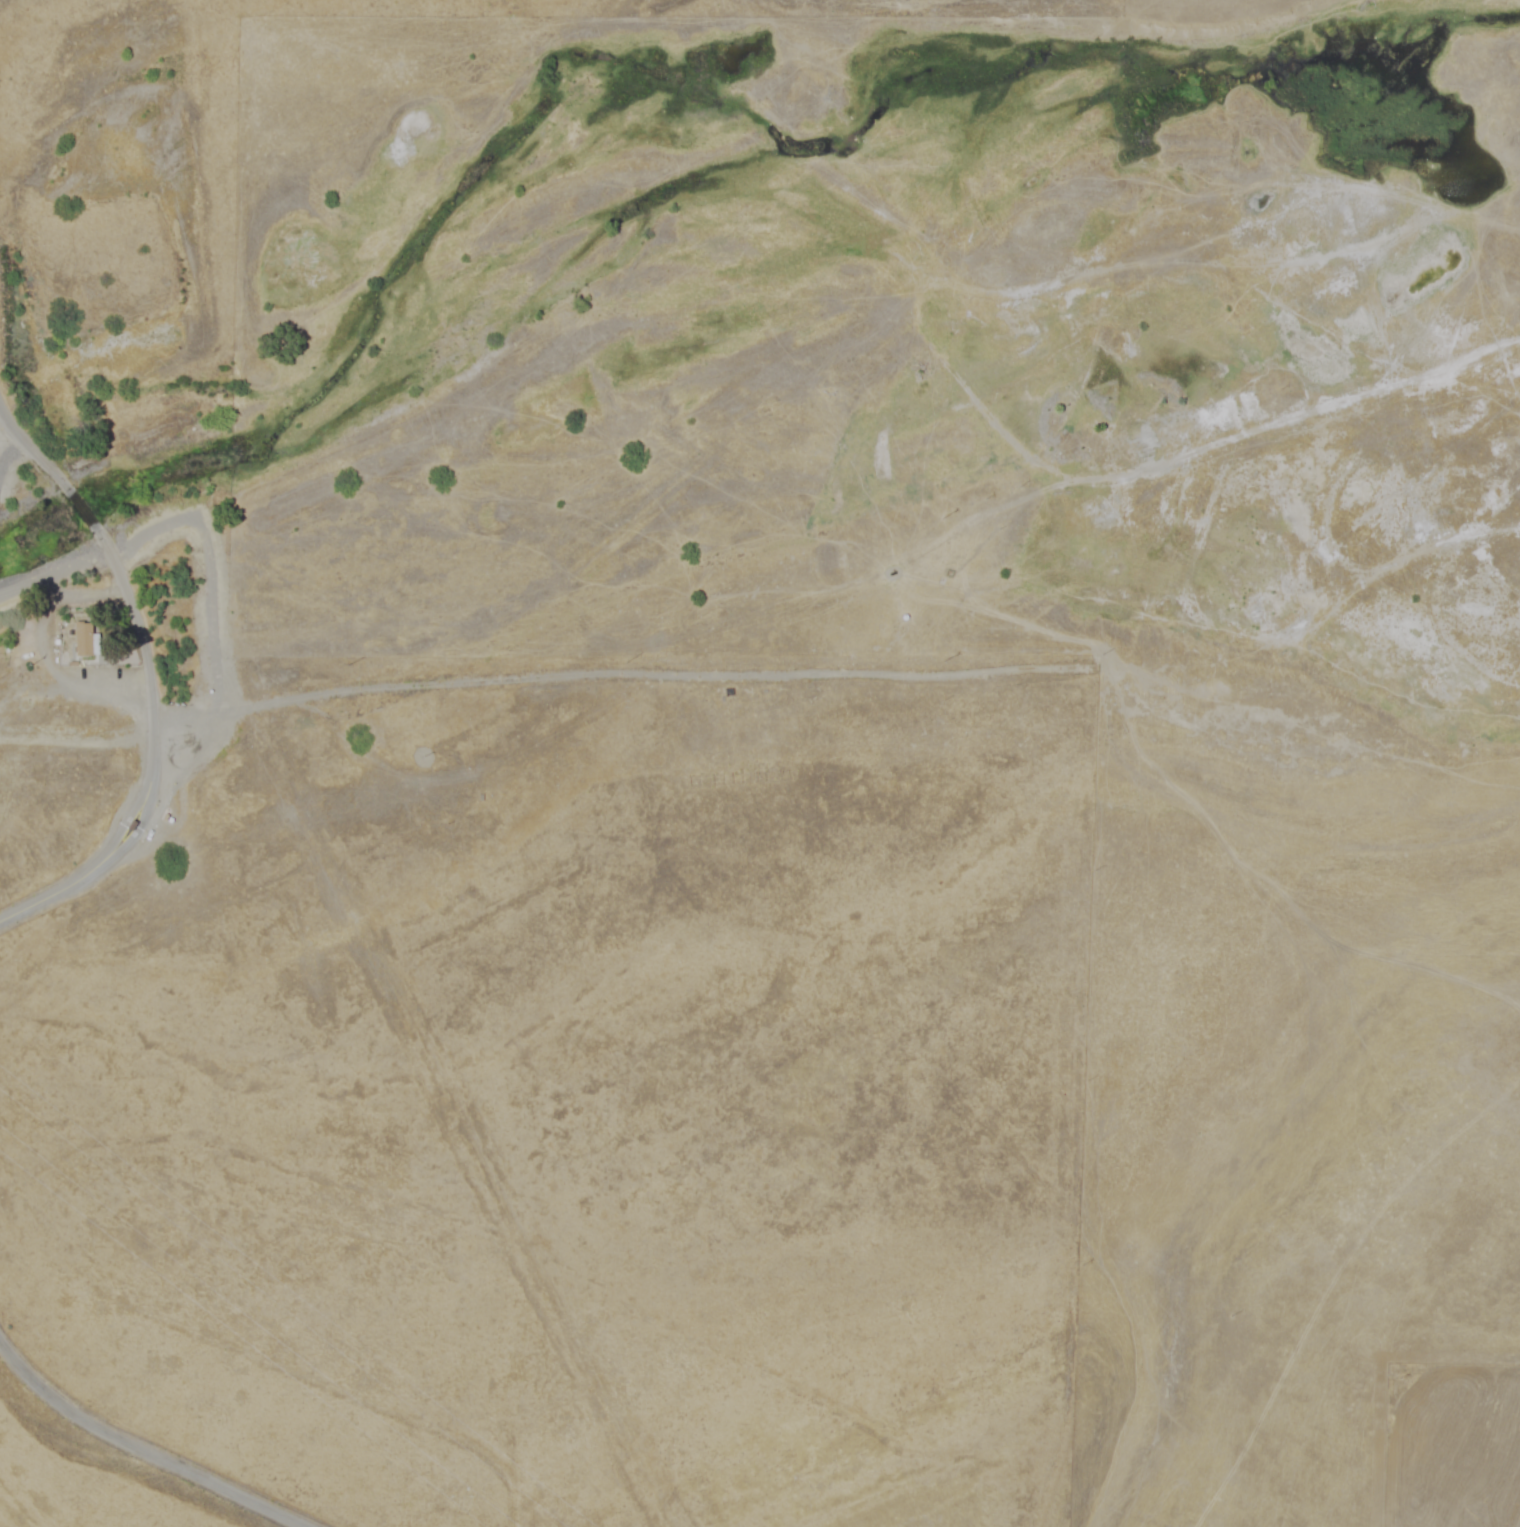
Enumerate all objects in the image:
quarry: (854, 346)
road: (29, 443)
road: (80, 503)
building: (87, 639)
road: (158, 757)
park: (479, 945)
road: (142, 1449)

